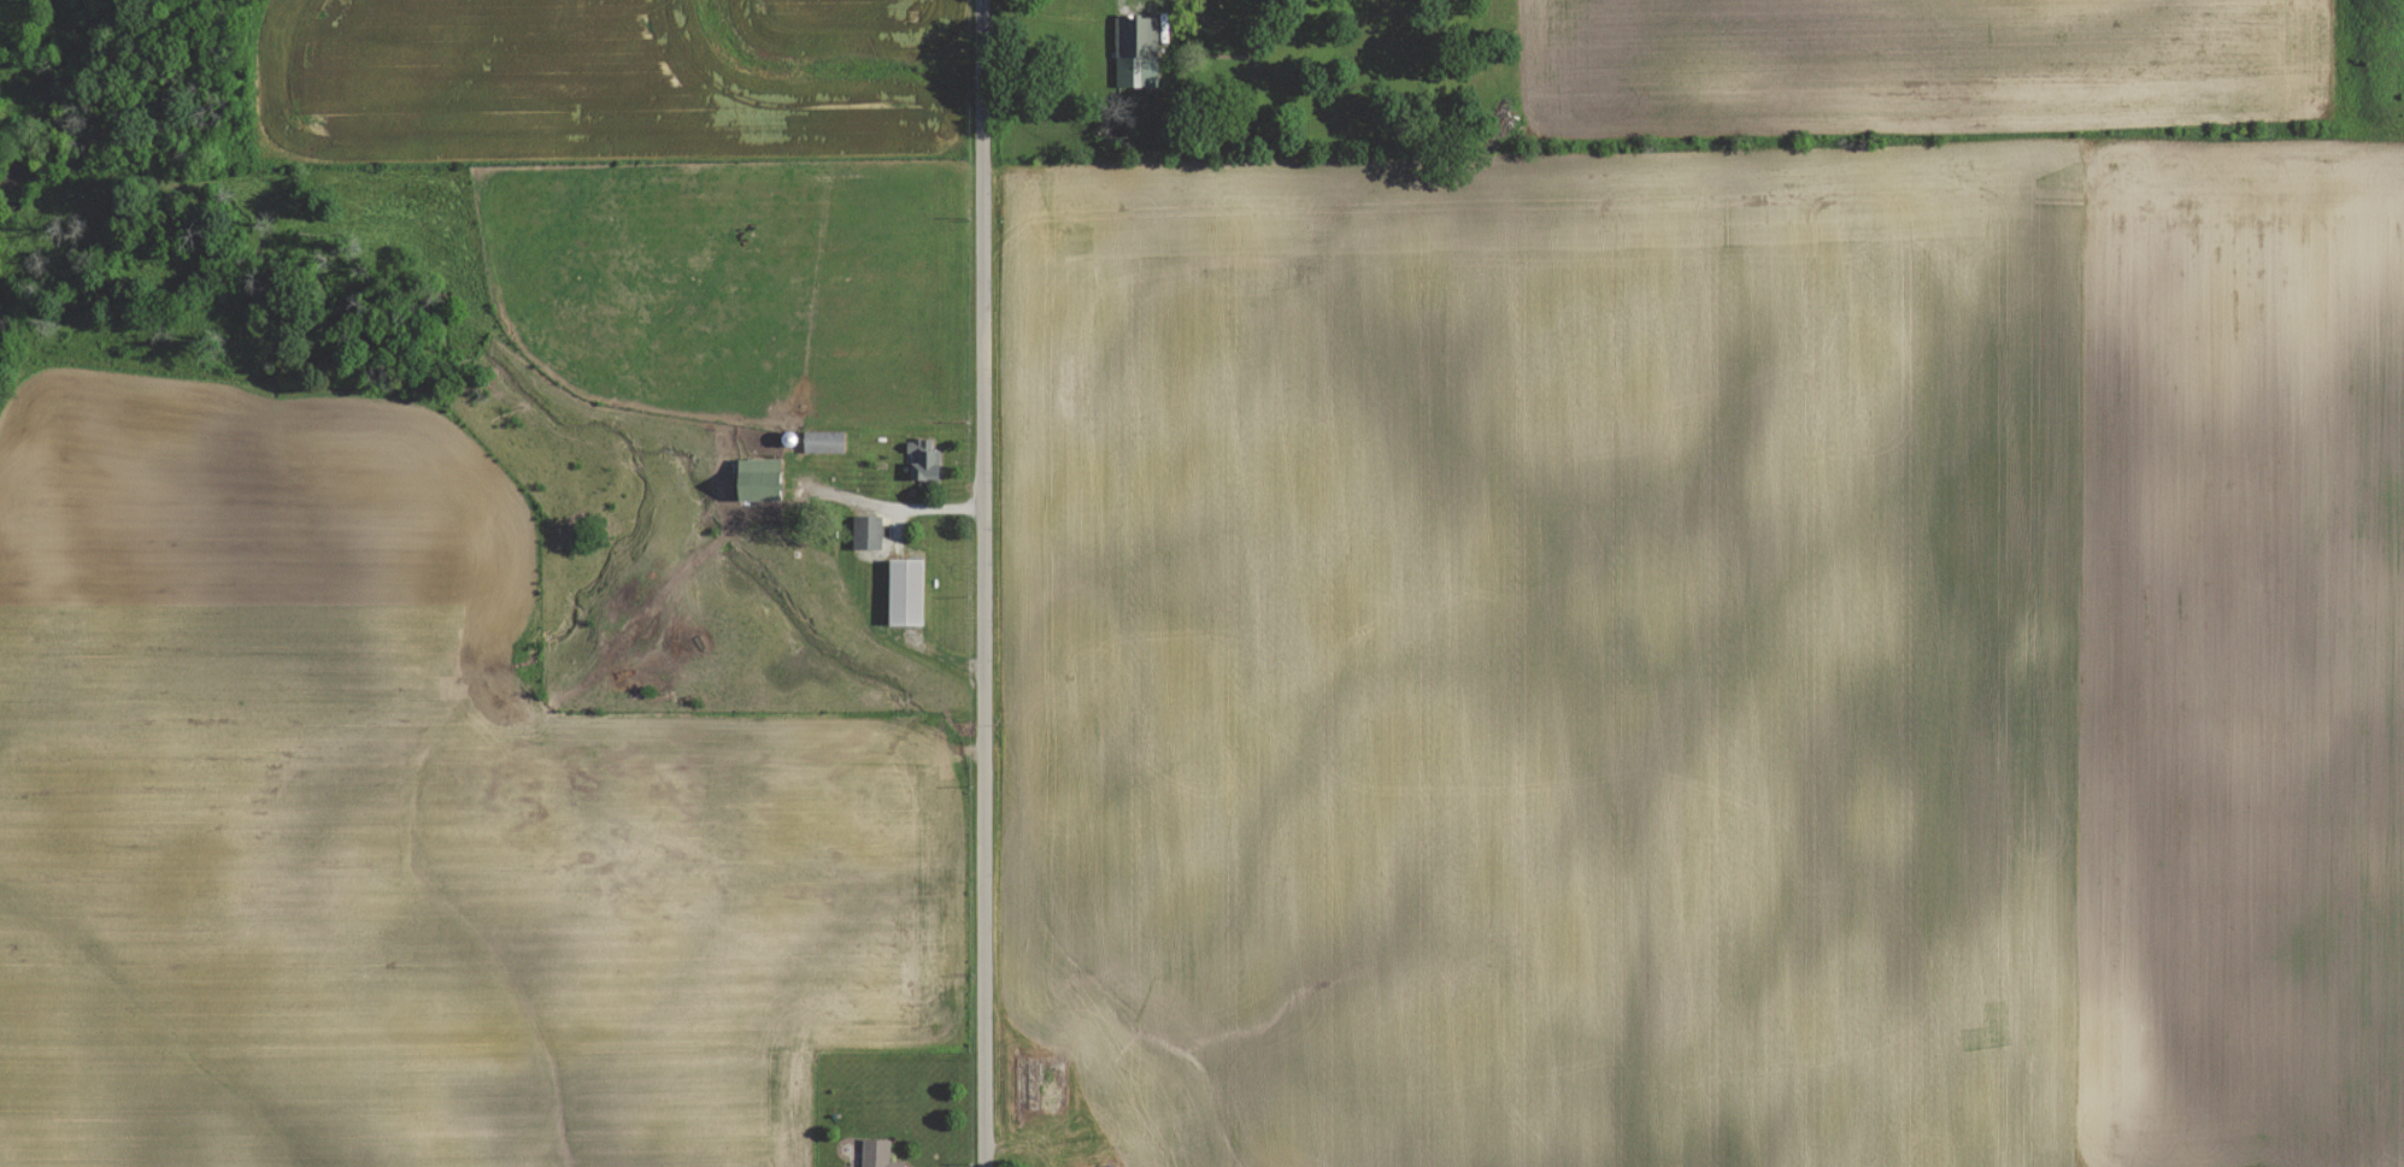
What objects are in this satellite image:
building: (1134, 51)
building: (819, 441)
building: (919, 460)
building: (752, 479)
building: (863, 532)
road: (970, 583)
building: (900, 591)
building: (874, 1153)

